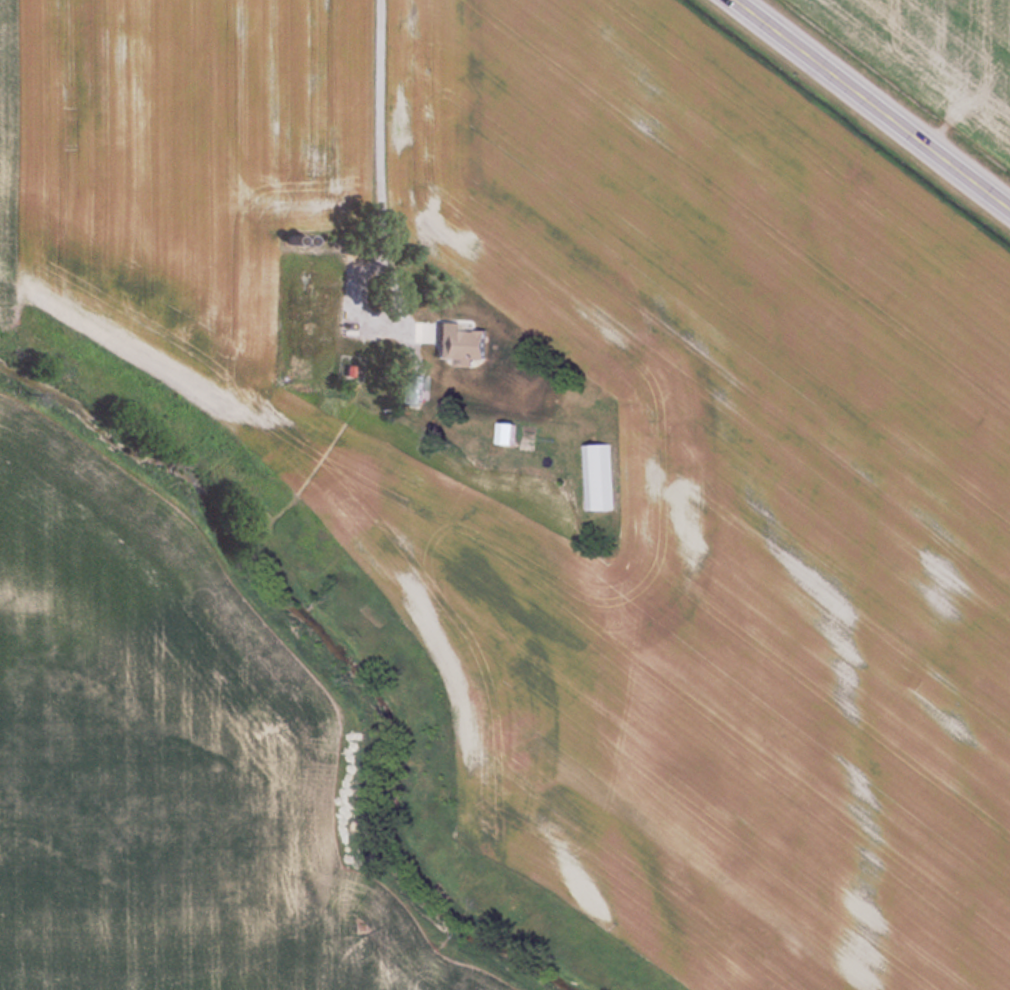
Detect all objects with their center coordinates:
road: (873, 104)
road: (388, 260)
building: (419, 388)
building: (511, 432)

